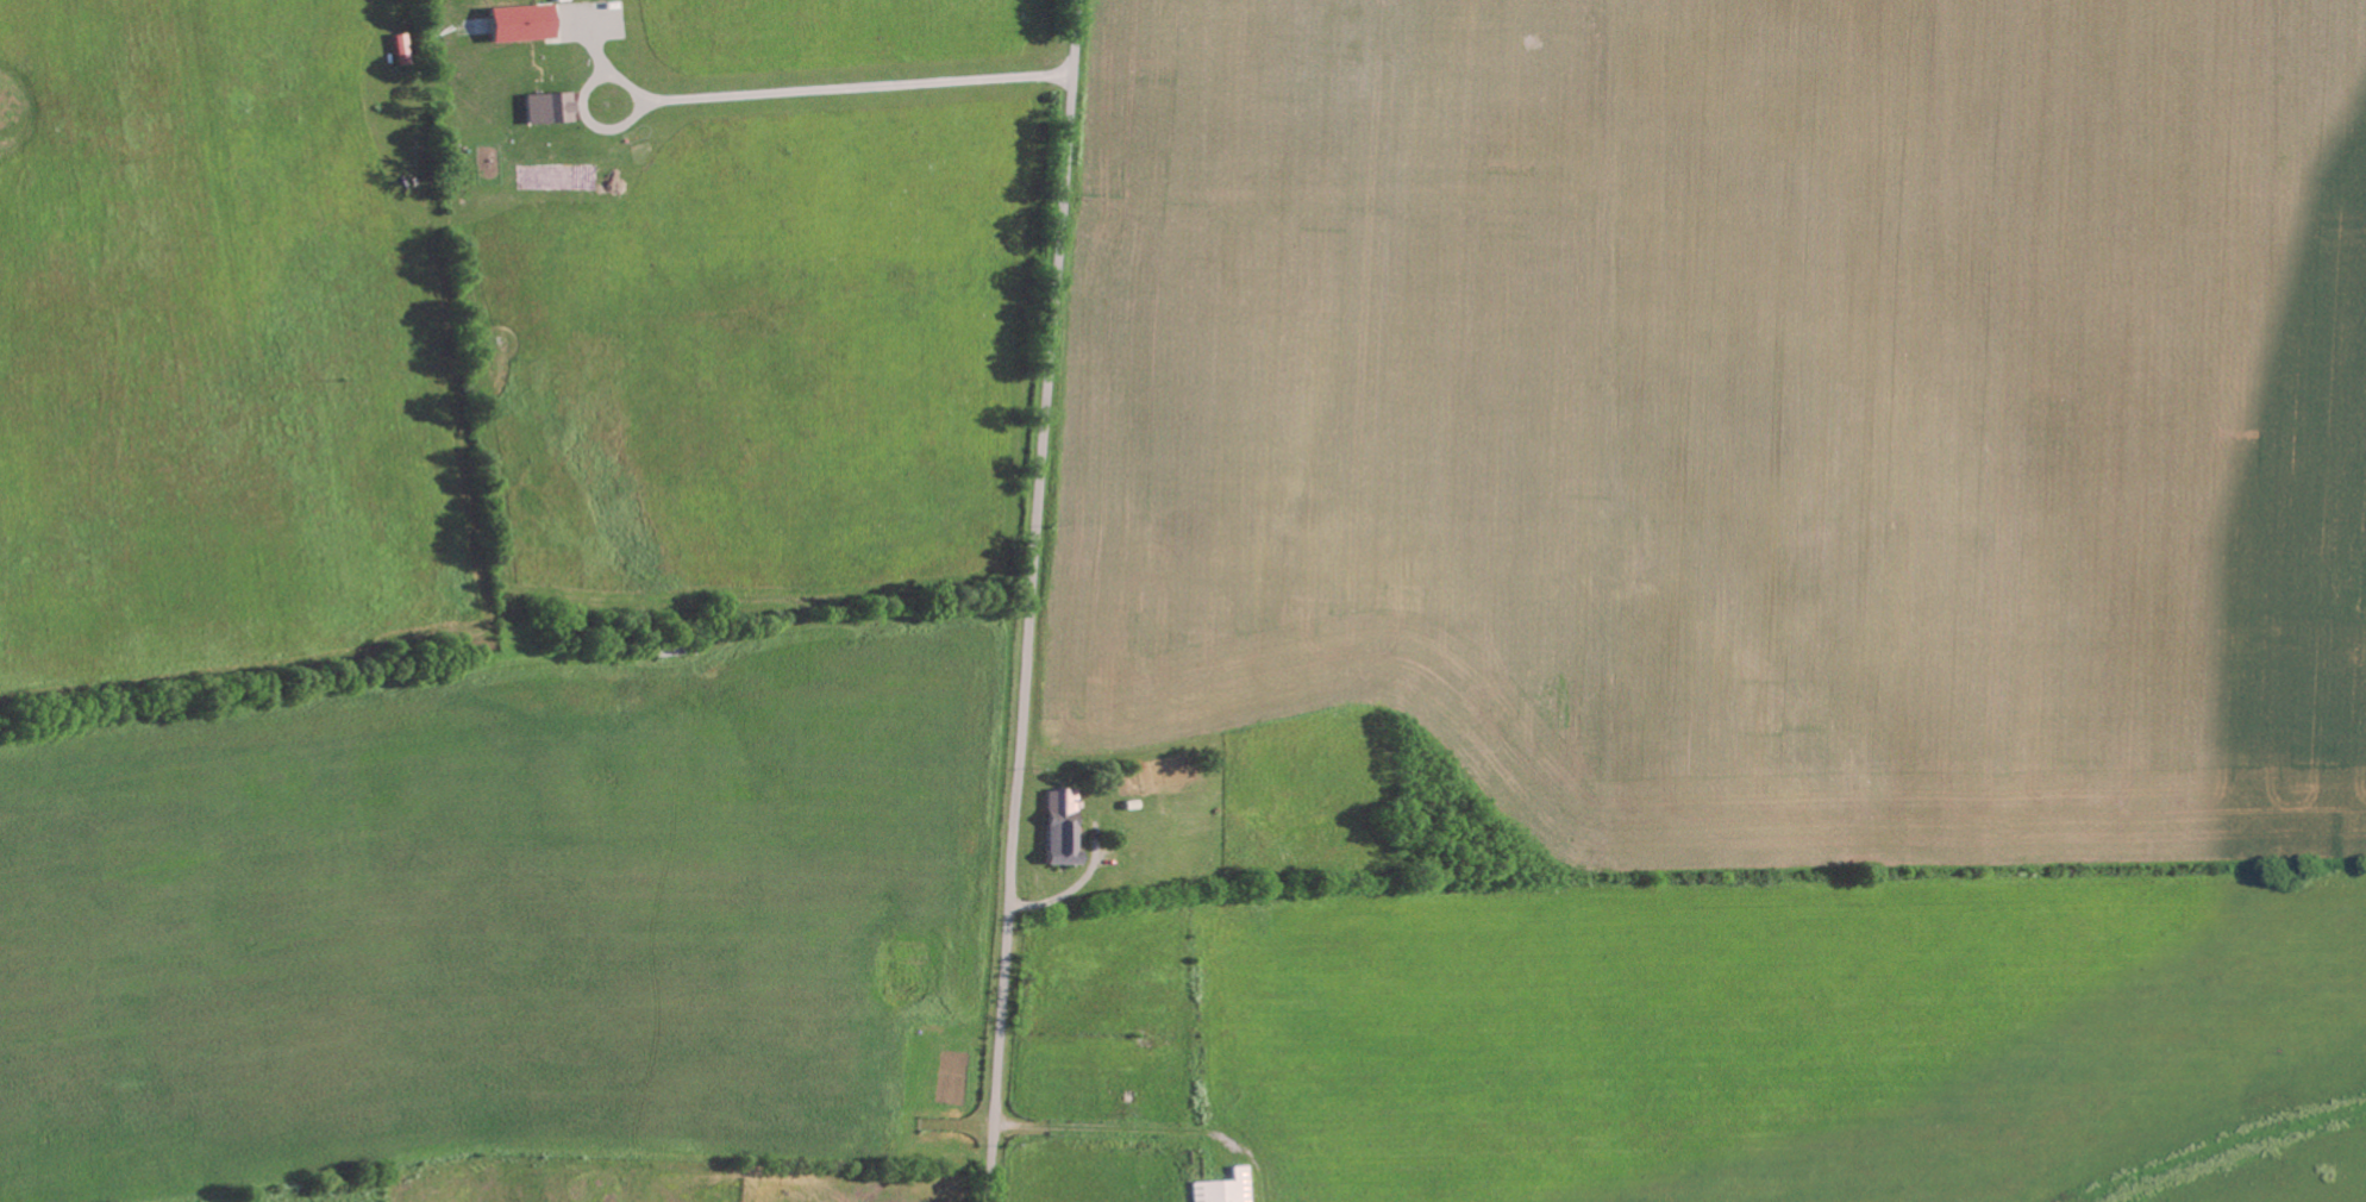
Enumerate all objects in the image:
building: (521, 23)
road: (605, 75)
road: (857, 84)
building: (550, 107)
road: (1034, 600)
building: (1064, 827)
building: (1227, 1189)

